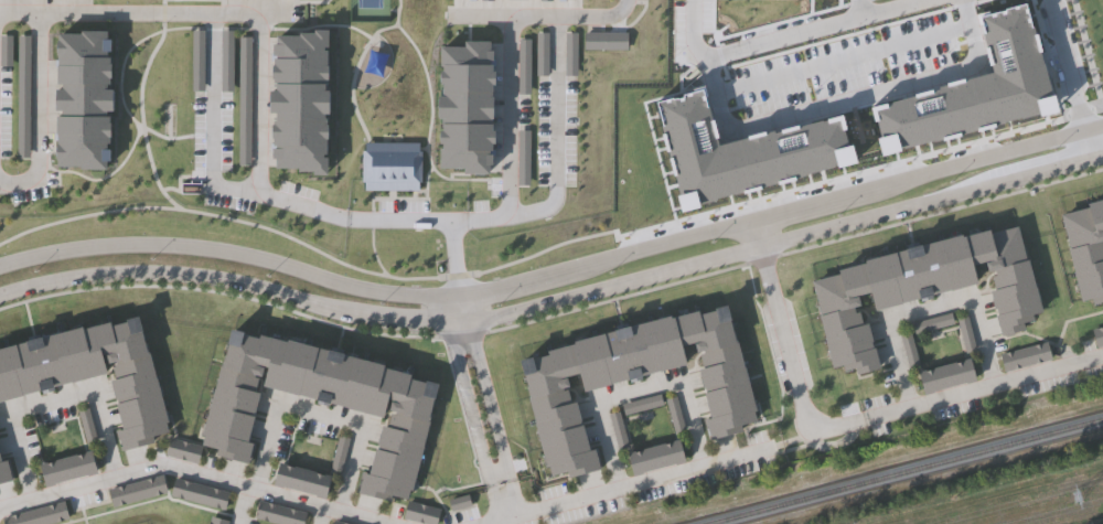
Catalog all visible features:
building: (514, 0)
building: (544, 0)
building: (470, 1)
building: (485, 1)
building: (559, 1)
road: (888, 8)
park: (370, 10)
road: (150, 11)
road: (480, 15)
road: (170, 29)
road: (757, 46)
road: (837, 62)
road: (358, 63)
road: (510, 74)
road: (1068, 79)
road: (848, 88)
building: (975, 89)
road: (141, 98)
building: (81, 101)
building: (301, 101)
building: (464, 108)
road: (39, 111)
road: (213, 122)
road: (429, 132)
road: (557, 132)
road: (259, 149)
building: (742, 151)
road: (1096, 158)
road: (983, 160)
building: (392, 167)
road: (1047, 171)
road: (427, 173)
road: (101, 178)
road: (174, 204)
road: (372, 204)
road: (808, 206)
road: (407, 220)
road: (757, 234)
road: (553, 246)
road: (660, 246)
building: (1086, 249)
road: (232, 255)
road: (732, 255)
road: (456, 258)
road: (189, 277)
road: (513, 286)
building: (923, 290)
road: (461, 310)
road: (929, 310)
road: (555, 314)
building: (932, 323)
road: (418, 325)
road: (462, 330)
building: (966, 333)
building: (1096, 336)
building: (908, 350)
building: (1025, 356)
road: (791, 359)
building: (92, 371)
building: (946, 377)
road: (983, 386)
road: (638, 387)
building: (728, 389)
road: (52, 402)
building: (642, 402)
road: (489, 408)
road: (472, 411)
building: (674, 411)
road: (320, 413)
building: (229, 415)
building: (87, 425)
building: (618, 427)
building: (183, 450)
building: (339, 453)
building: (657, 453)
building: (66, 470)
railway: (908, 471)
building: (3, 472)
road: (196, 472)
road: (497, 472)
building: (301, 482)
road: (629, 485)
building: (136, 492)
building: (199, 493)
road: (514, 498)
power tower: (1075, 498)
road: (496, 503)
road: (243, 505)
road: (321, 514)
building: (419, 514)
building: (279, 515)
building: (39, 516)
building: (218, 521)
building: (338, 522)

